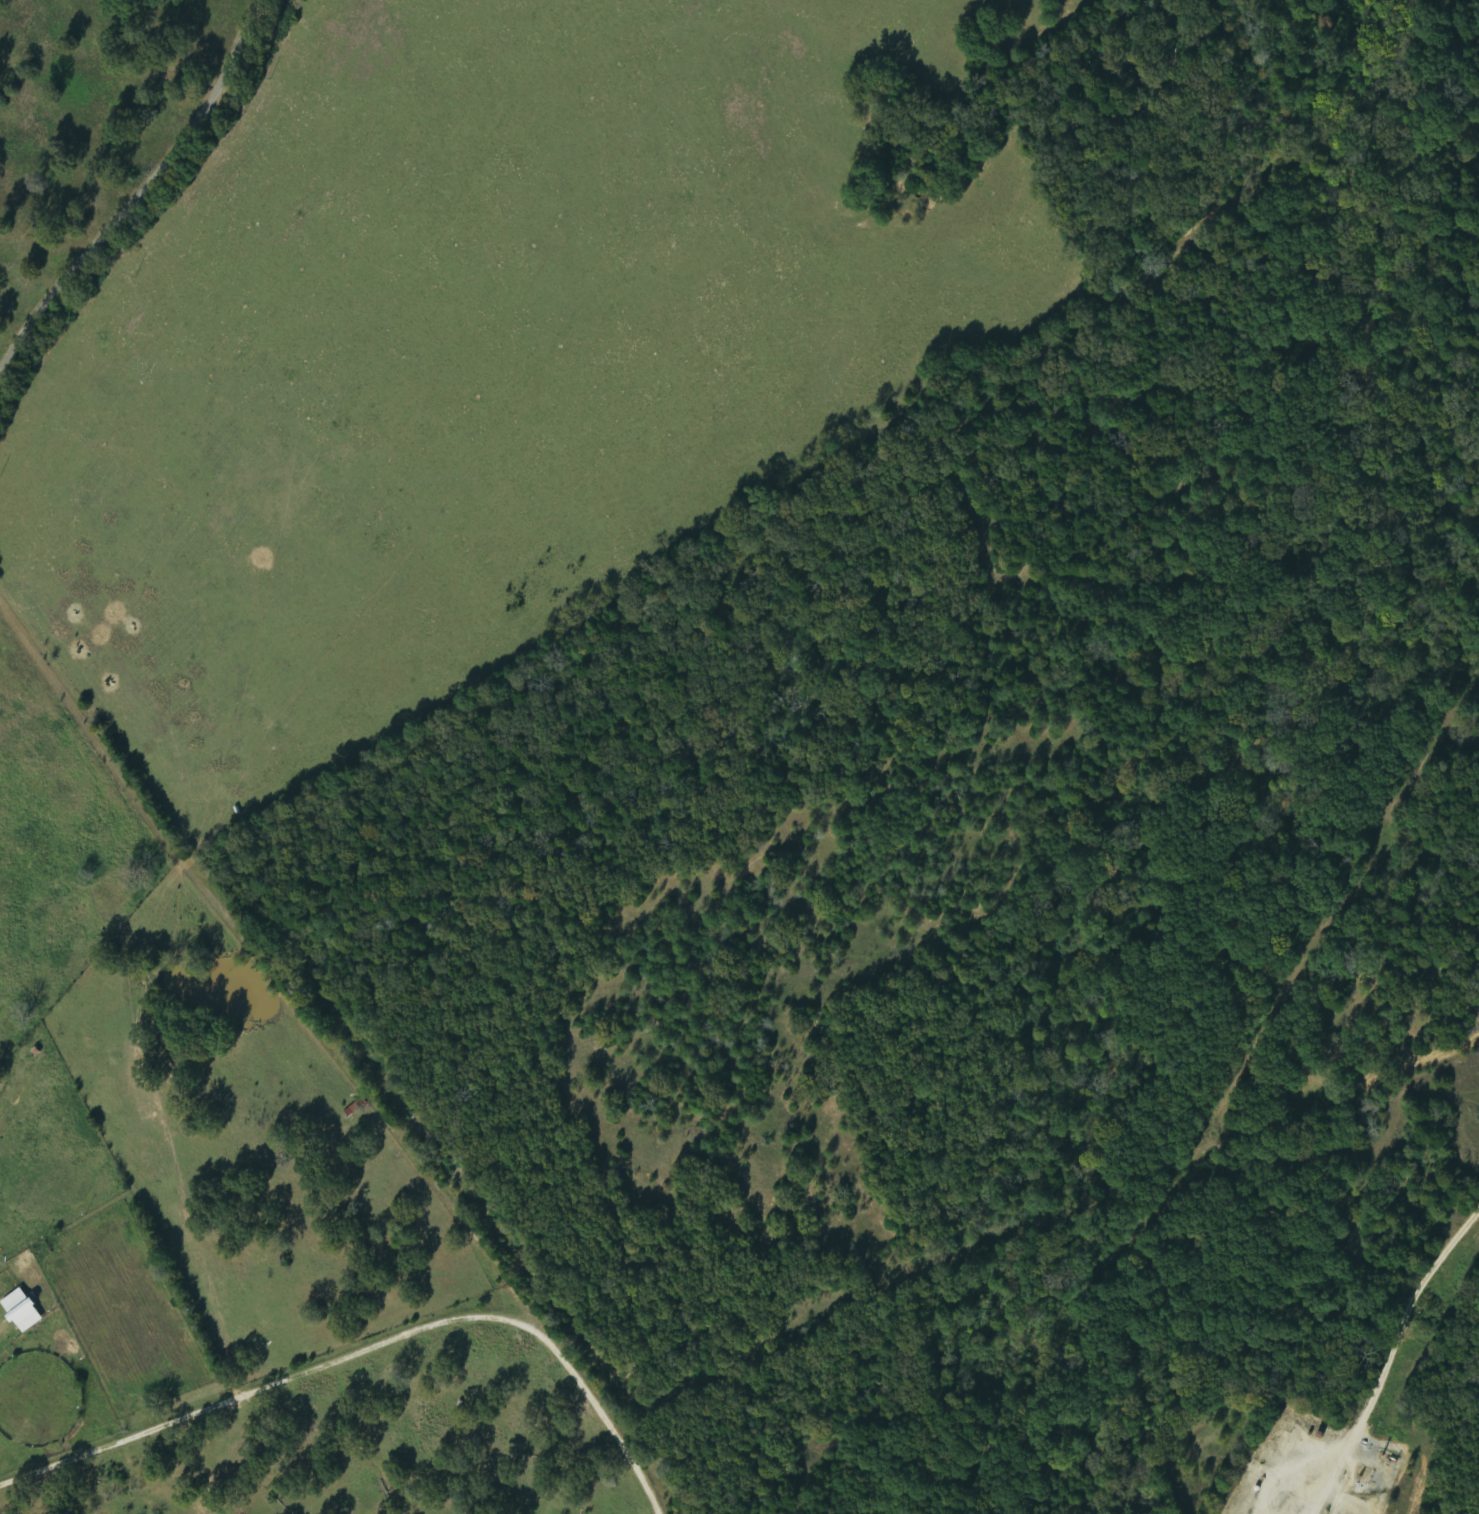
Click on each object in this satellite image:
road: (144, 193)
building: (25, 1311)

